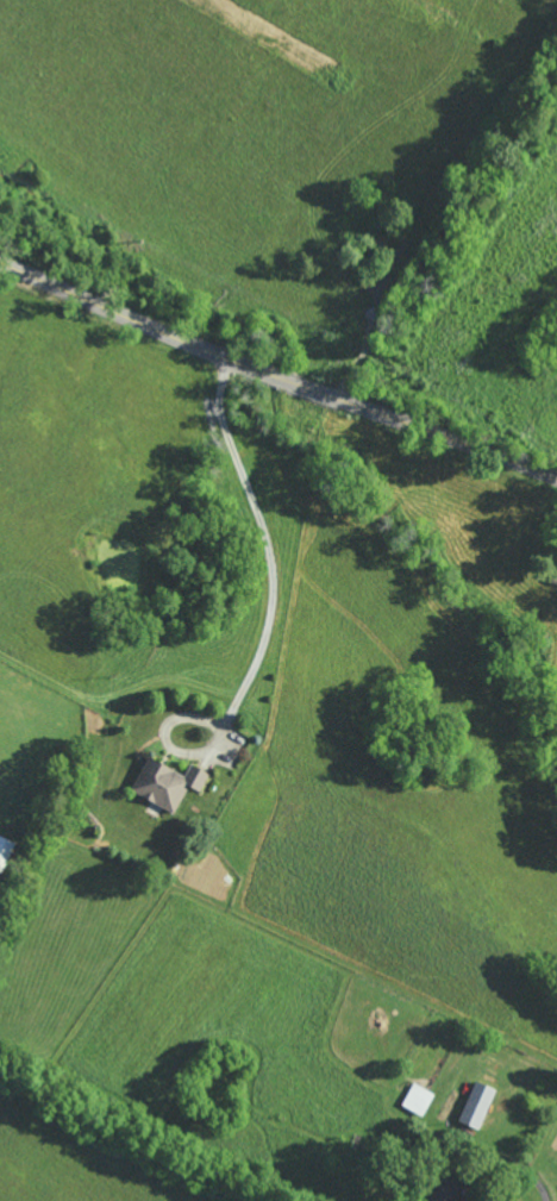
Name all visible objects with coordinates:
road: (408, 137)
road: (275, 379)
road: (267, 623)
building: (167, 783)
building: (5, 851)
building: (418, 1099)
building: (476, 1105)
building: (444, 1188)

